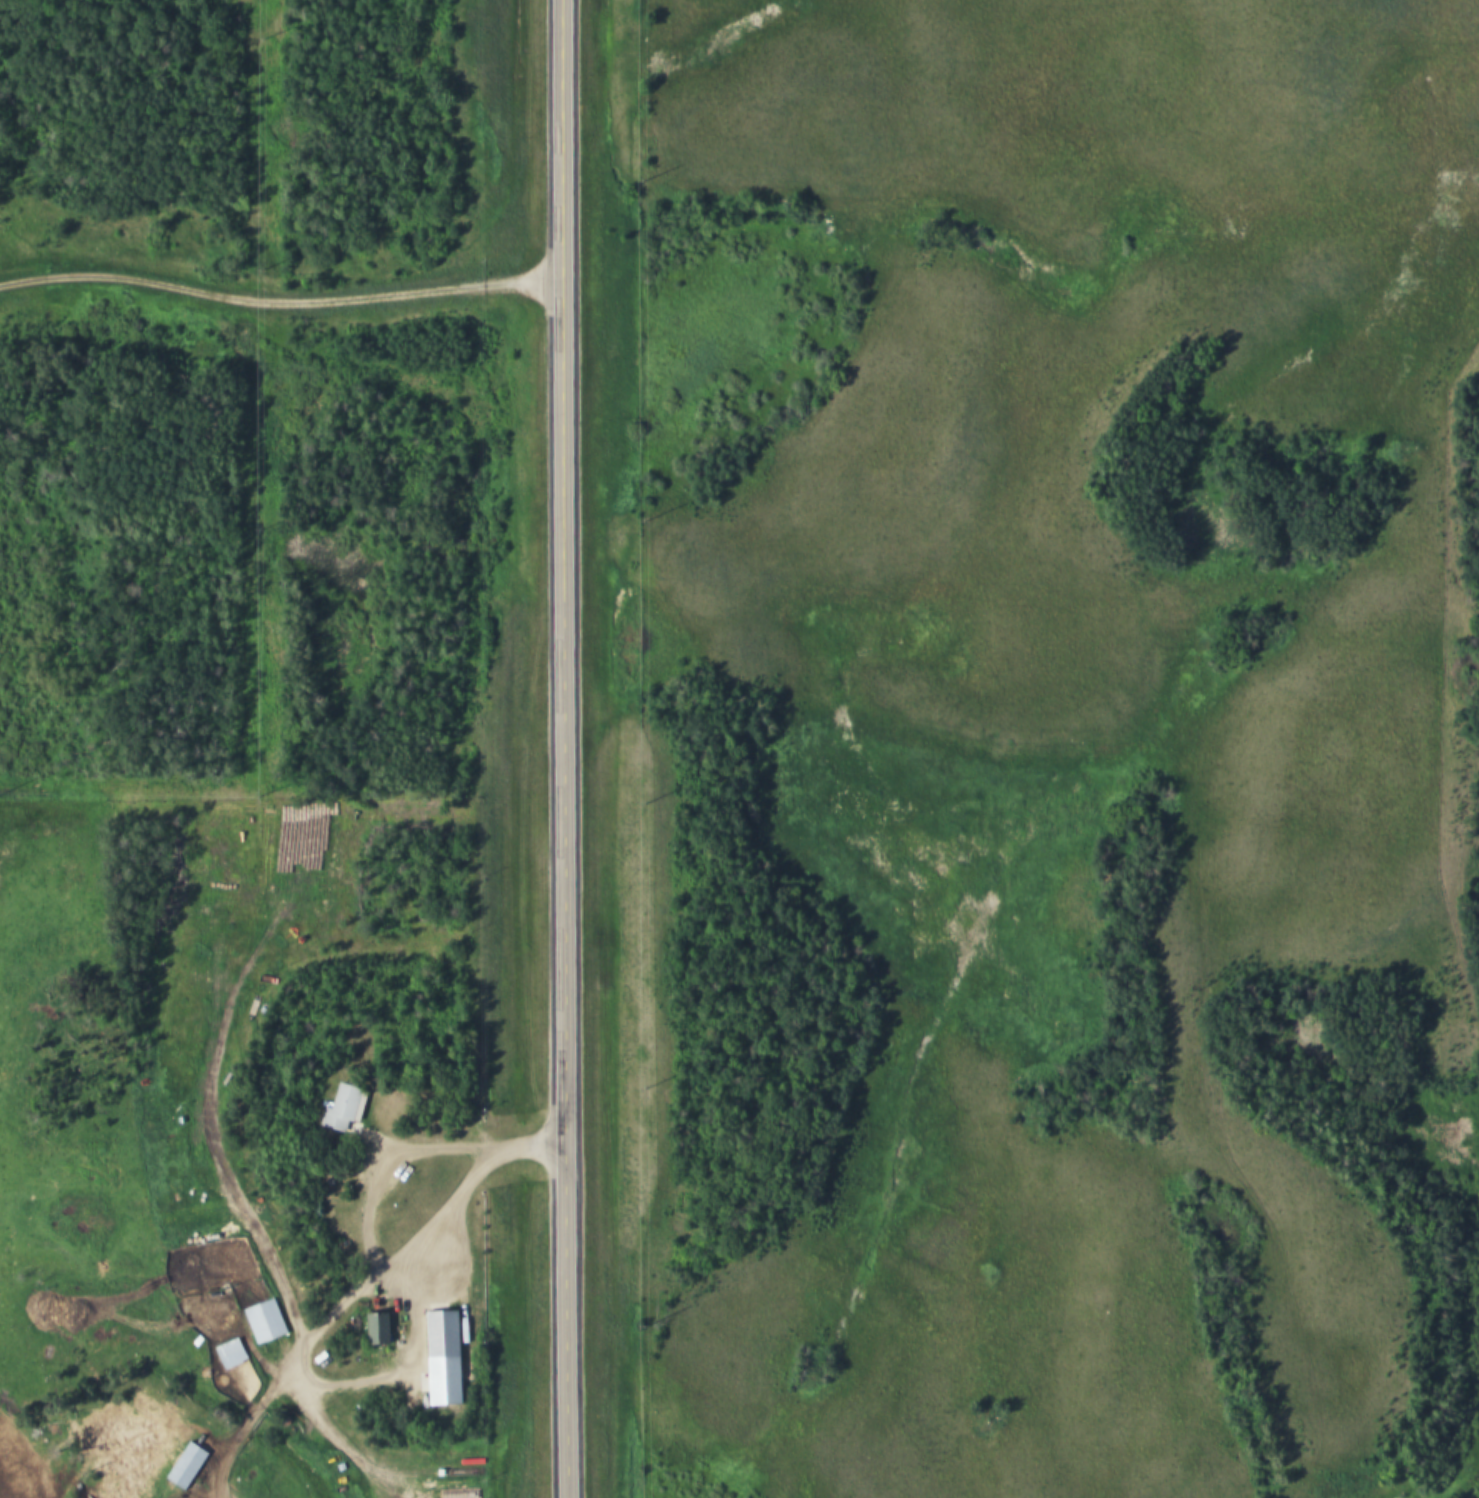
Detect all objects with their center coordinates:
road: (279, 303)
road: (563, 749)
road: (1215, 960)
building: (348, 1108)
road: (393, 1173)
road: (379, 1275)
building: (269, 1321)
building: (384, 1328)
building: (444, 1334)
building: (238, 1358)
building: (190, 1466)

